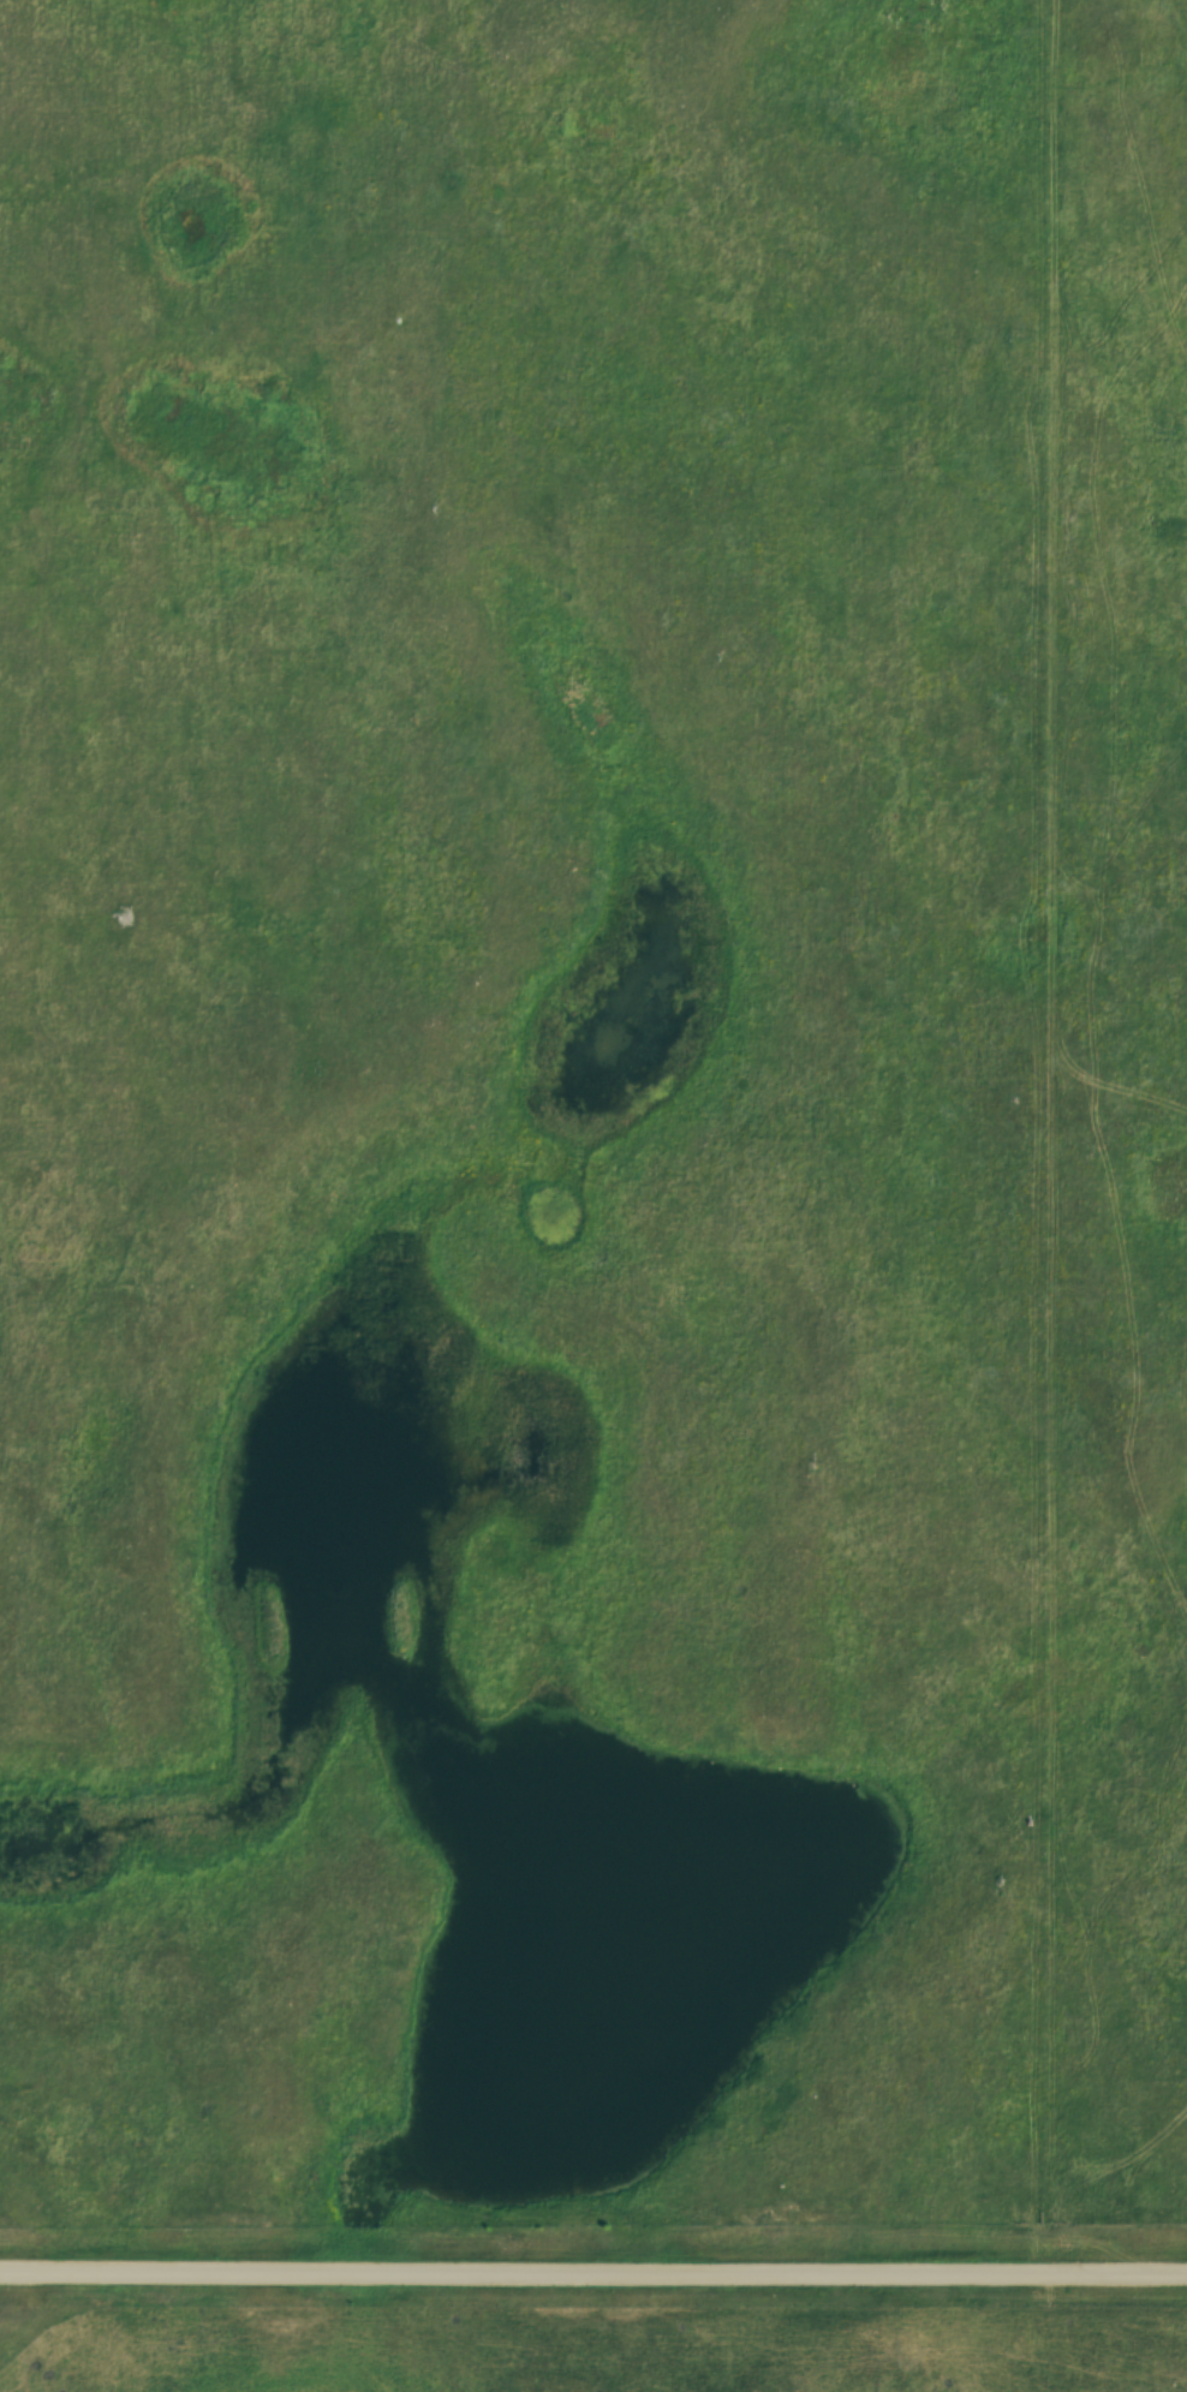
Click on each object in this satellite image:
road: (592, 2274)

